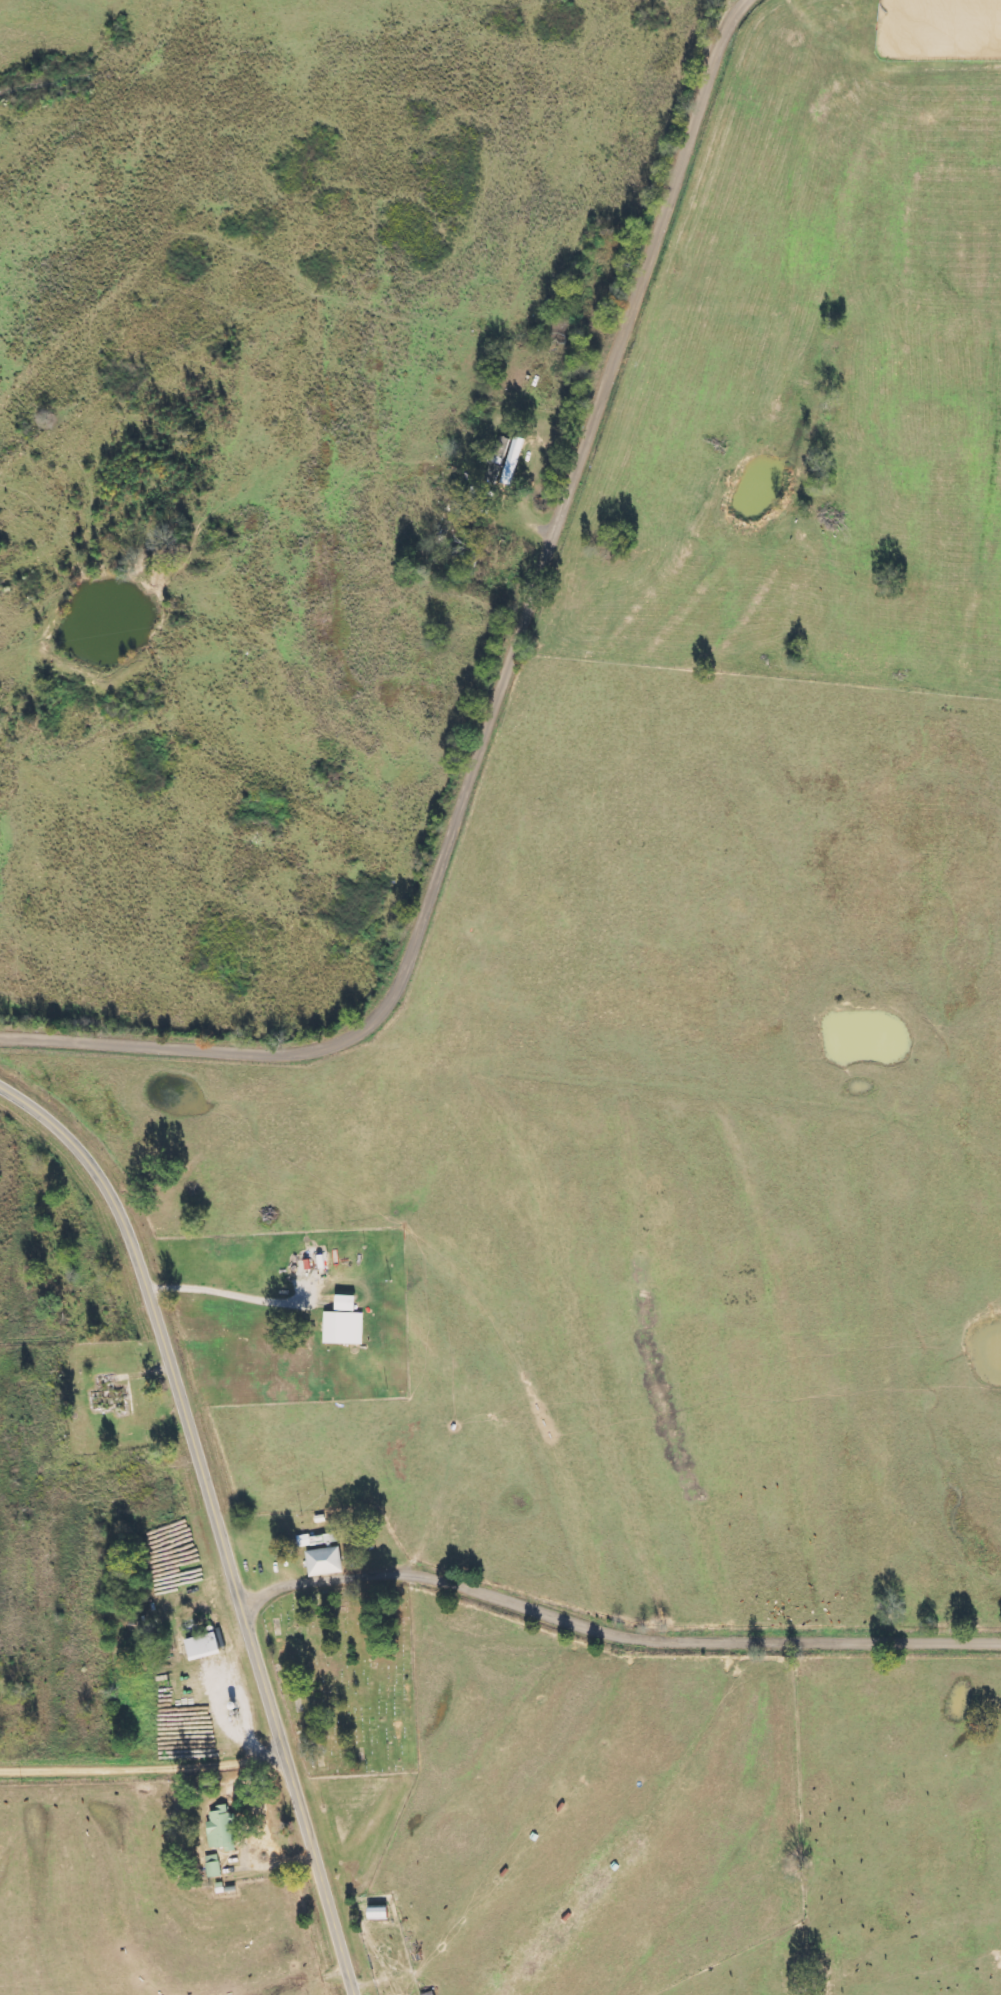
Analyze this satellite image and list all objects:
road: (505, 695)
building: (344, 1303)
building: (343, 1328)
road: (215, 1517)
building: (323, 1562)
road: (615, 1633)
building: (201, 1647)
park: (346, 1676)
road: (142, 1761)
building: (221, 1831)
building: (213, 1866)

